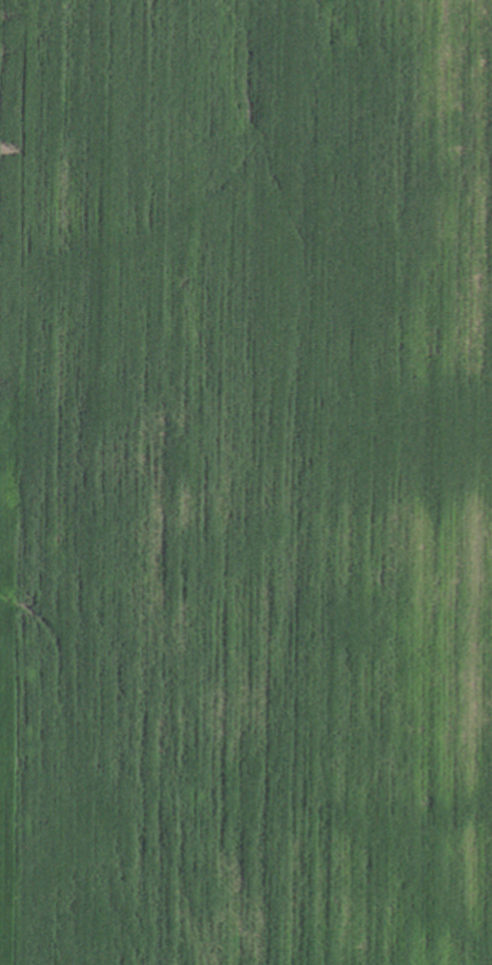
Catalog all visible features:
crop: (246, 482)

